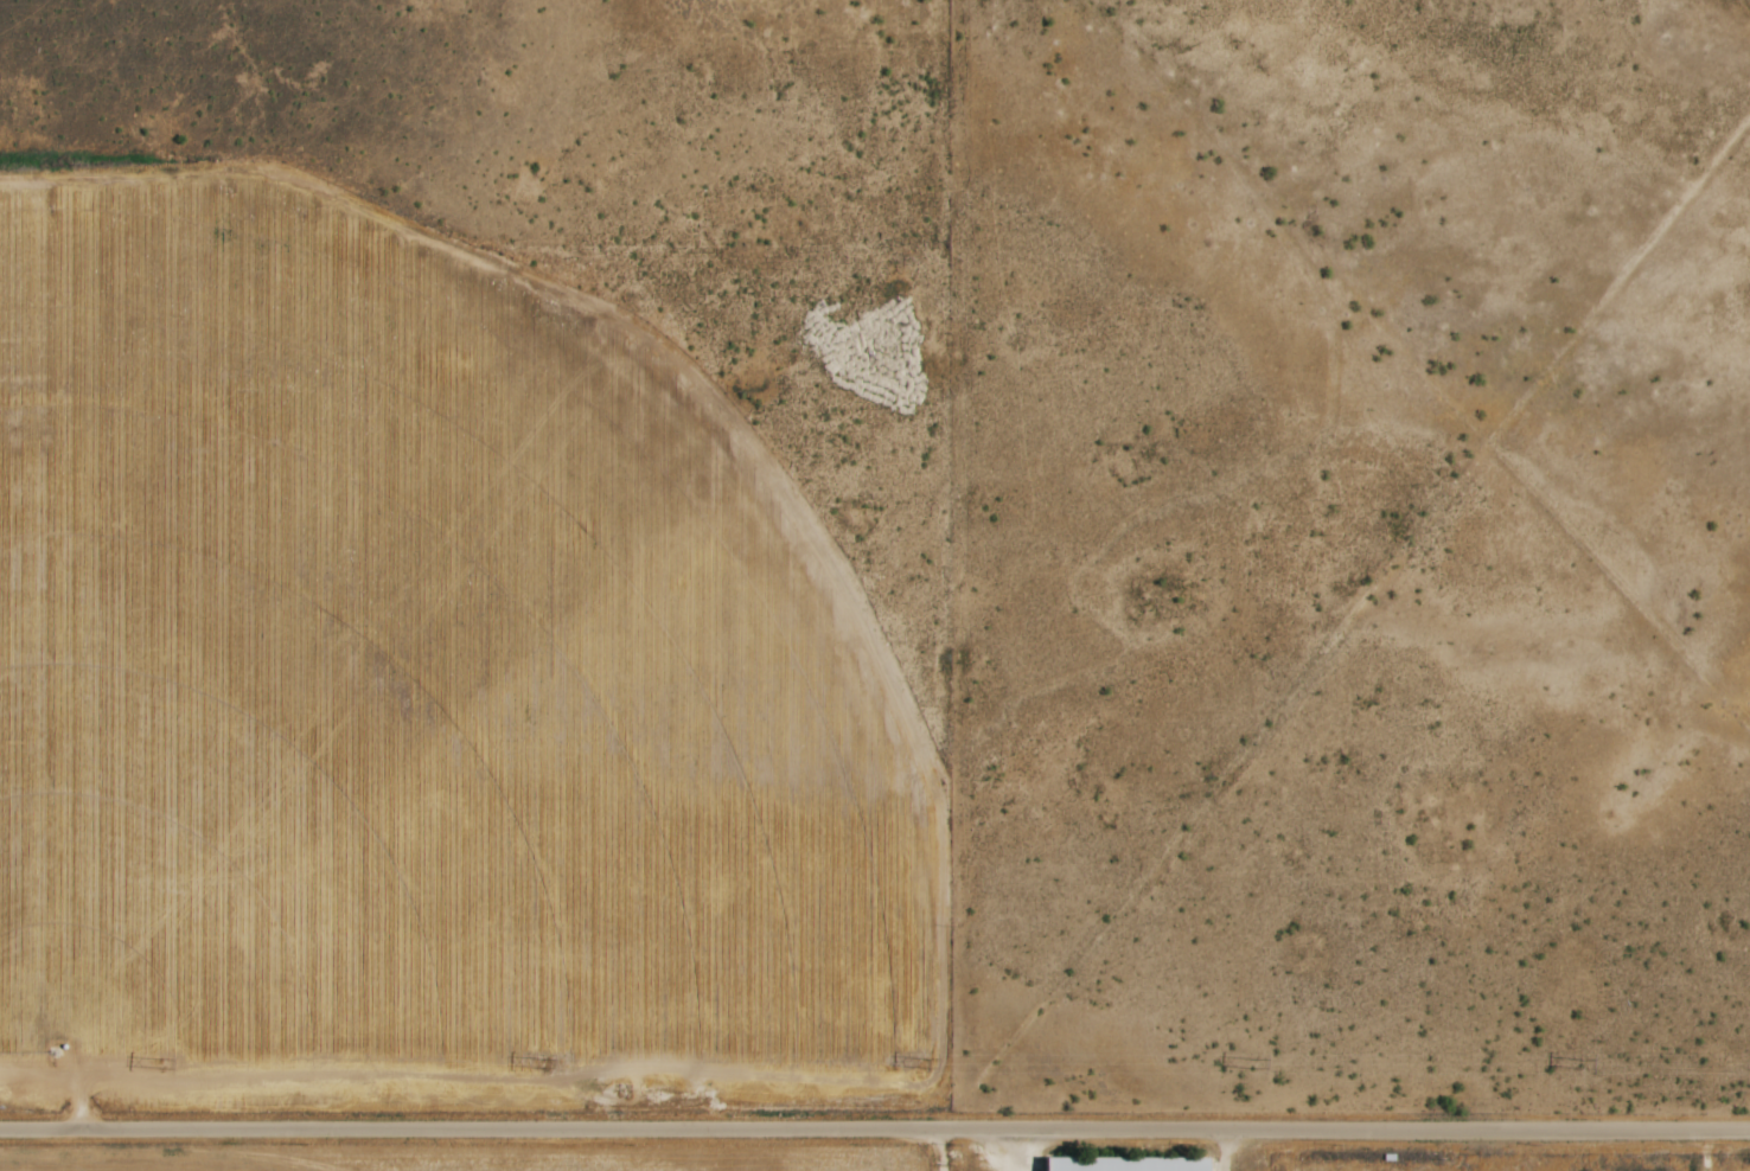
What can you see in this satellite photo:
power tower: (155, 1062)
power tower: (542, 1063)
power tower: (925, 1063)
power tower: (1256, 1064)
power tower: (1584, 1066)
road: (875, 1127)
road: (941, 1148)
building: (1129, 1164)

